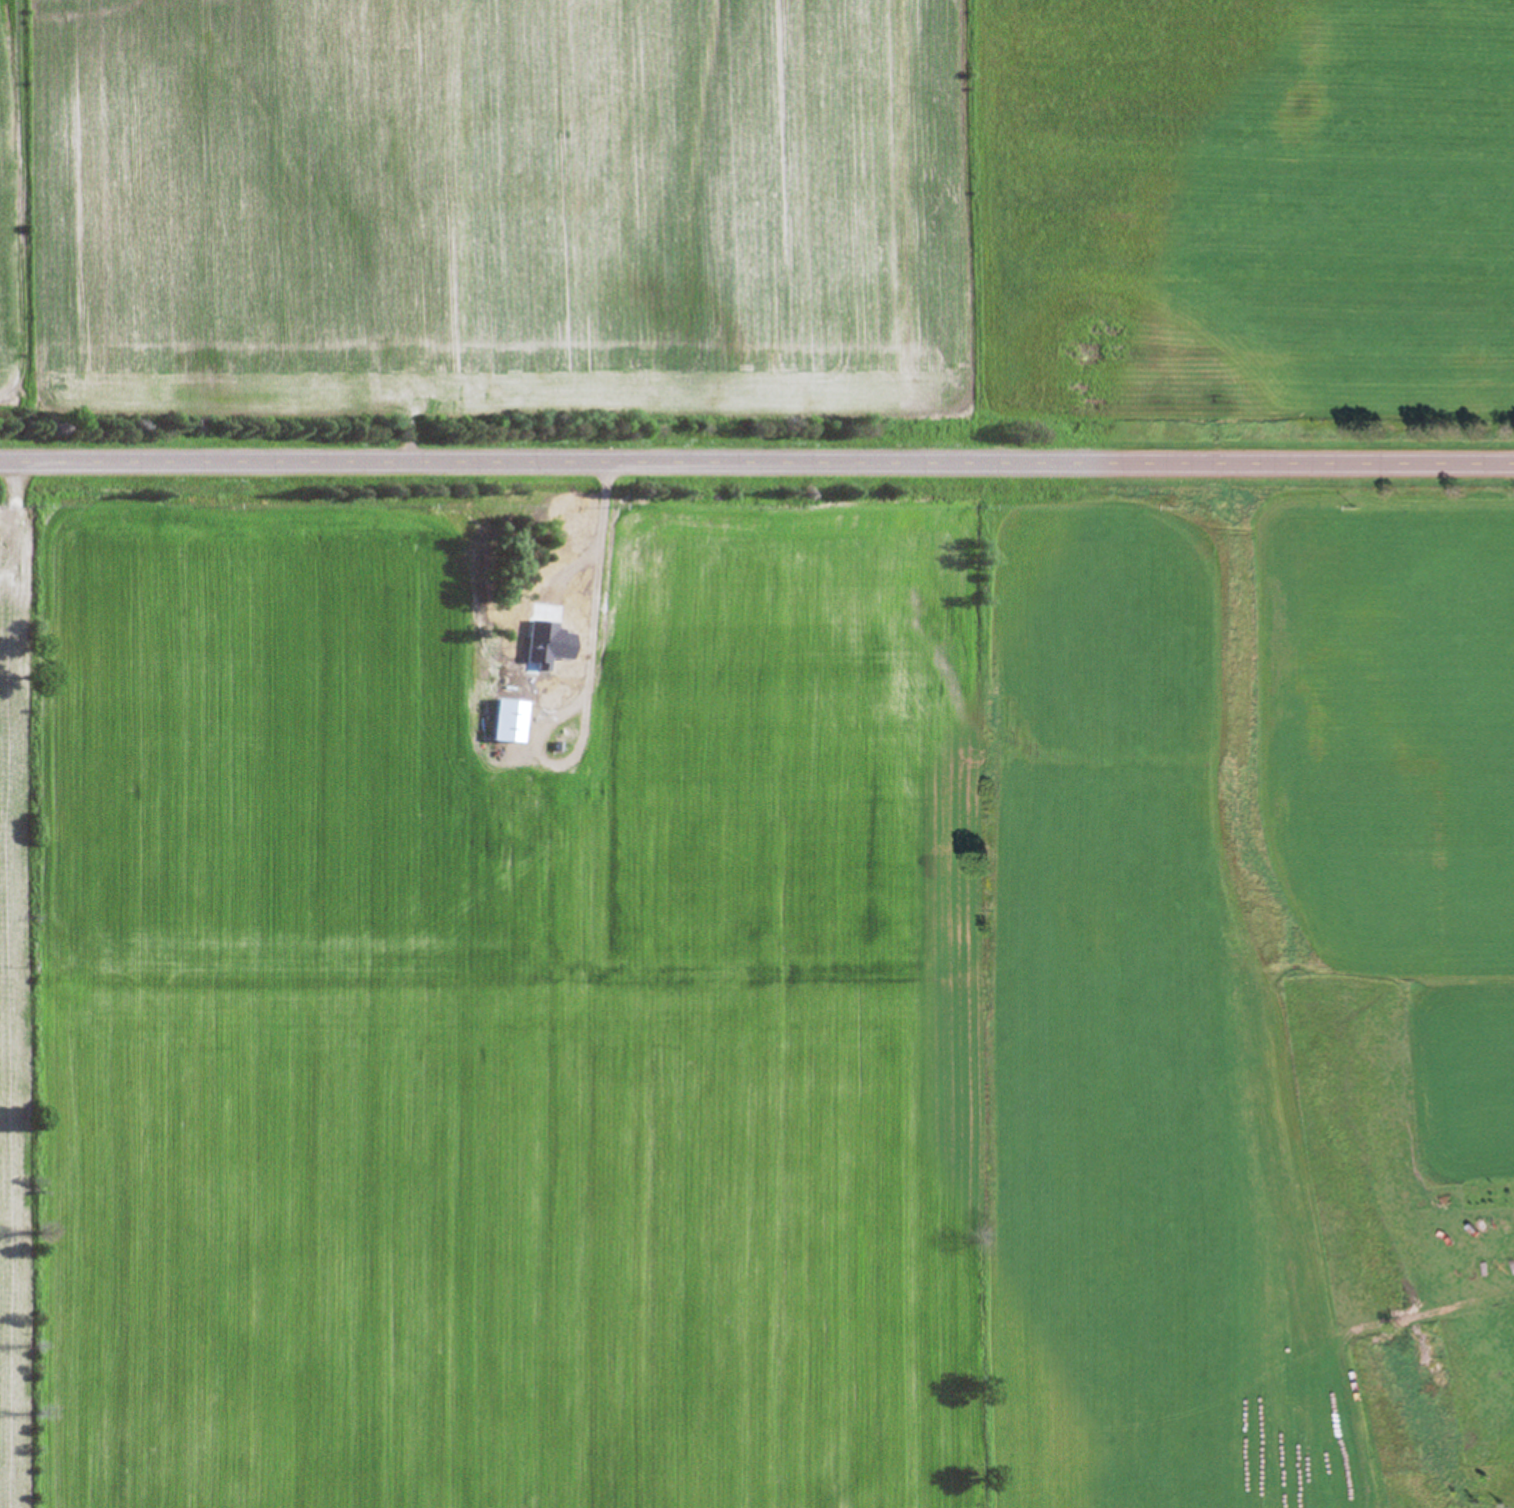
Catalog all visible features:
road: (757, 467)
building: (507, 723)

